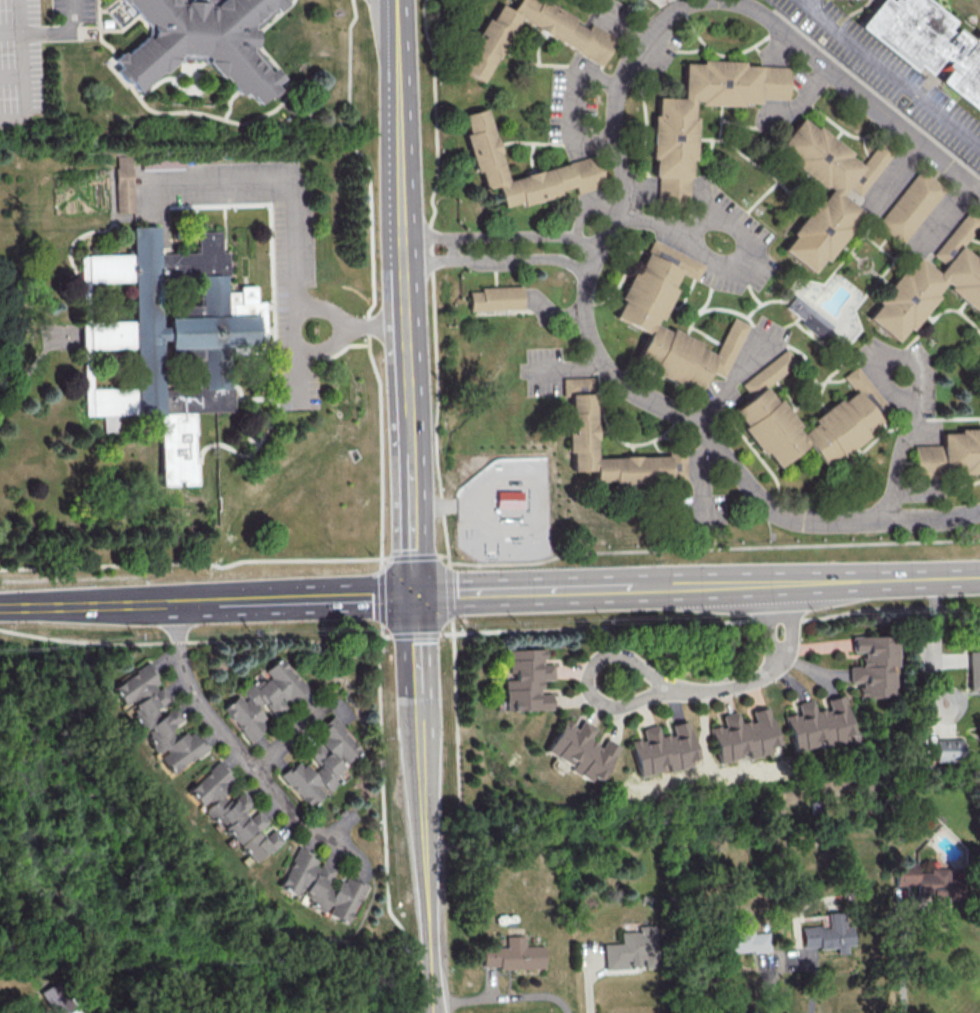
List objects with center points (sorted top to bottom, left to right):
parking lot: (74, 10)
building: (546, 22)
road: (620, 27)
road: (63, 32)
road: (11, 33)
building: (486, 43)
building: (205, 44)
building: (589, 45)
building: (928, 46)
parking lot: (20, 61)
road: (349, 66)
road: (23, 70)
road: (890, 73)
road: (12, 77)
building: (768, 82)
building: (717, 83)
road: (857, 89)
road: (803, 99)
road: (570, 101)
road: (216, 116)
building: (670, 137)
building: (479, 149)
building: (817, 157)
building: (162, 164)
building: (867, 168)
road: (896, 172)
building: (579, 175)
building: (122, 186)
road: (289, 186)
building: (530, 186)
building: (668, 189)
building: (910, 205)
road: (944, 218)
building: (817, 229)
road: (499, 237)
building: (953, 240)
building: (671, 259)
road: (497, 260)
parking lot: (293, 268)
road: (739, 272)
road: (433, 275)
building: (962, 278)
building: (647, 293)
road: (405, 297)
building: (493, 299)
building: (903, 299)
road: (551, 315)
building: (808, 319)
road: (360, 325)
building: (165, 330)
building: (725, 347)
building: (674, 355)
road: (881, 361)
road: (294, 363)
road: (36, 366)
road: (561, 370)
road: (610, 372)
building: (768, 374)
road: (732, 381)
building: (574, 386)
building: (867, 392)
building: (771, 426)
building: (841, 428)
building: (582, 431)
road: (379, 441)
building: (962, 450)
road: (899, 454)
building: (929, 461)
building: (674, 463)
building: (632, 468)
road: (701, 481)
building: (508, 499)
road: (713, 547)
road: (411, 556)
road: (447, 556)
road: (383, 562)
road: (194, 563)
road: (875, 579)
road: (591, 588)
road: (450, 592)
road: (383, 595)
traffic signals: (414, 596)
road: (295, 598)
road: (89, 604)
road: (771, 620)
road: (710, 621)
road: (791, 621)
road: (416, 634)
road: (388, 636)
road: (191, 641)
building: (874, 661)
building: (973, 669)
building: (525, 680)
road: (701, 690)
building: (265, 698)
road: (455, 713)
building: (155, 718)
building: (817, 723)
building: (742, 735)
road: (287, 736)
building: (661, 749)
building: (947, 749)
building: (579, 750)
road: (242, 753)
building: (322, 762)
road: (422, 804)
building: (231, 812)
road: (384, 821)
river: (132, 851)
building: (929, 882)
building: (319, 886)
building: (827, 933)
building: (746, 941)
building: (632, 948)
building: (512, 954)
road: (903, 964)
road: (502, 998)

